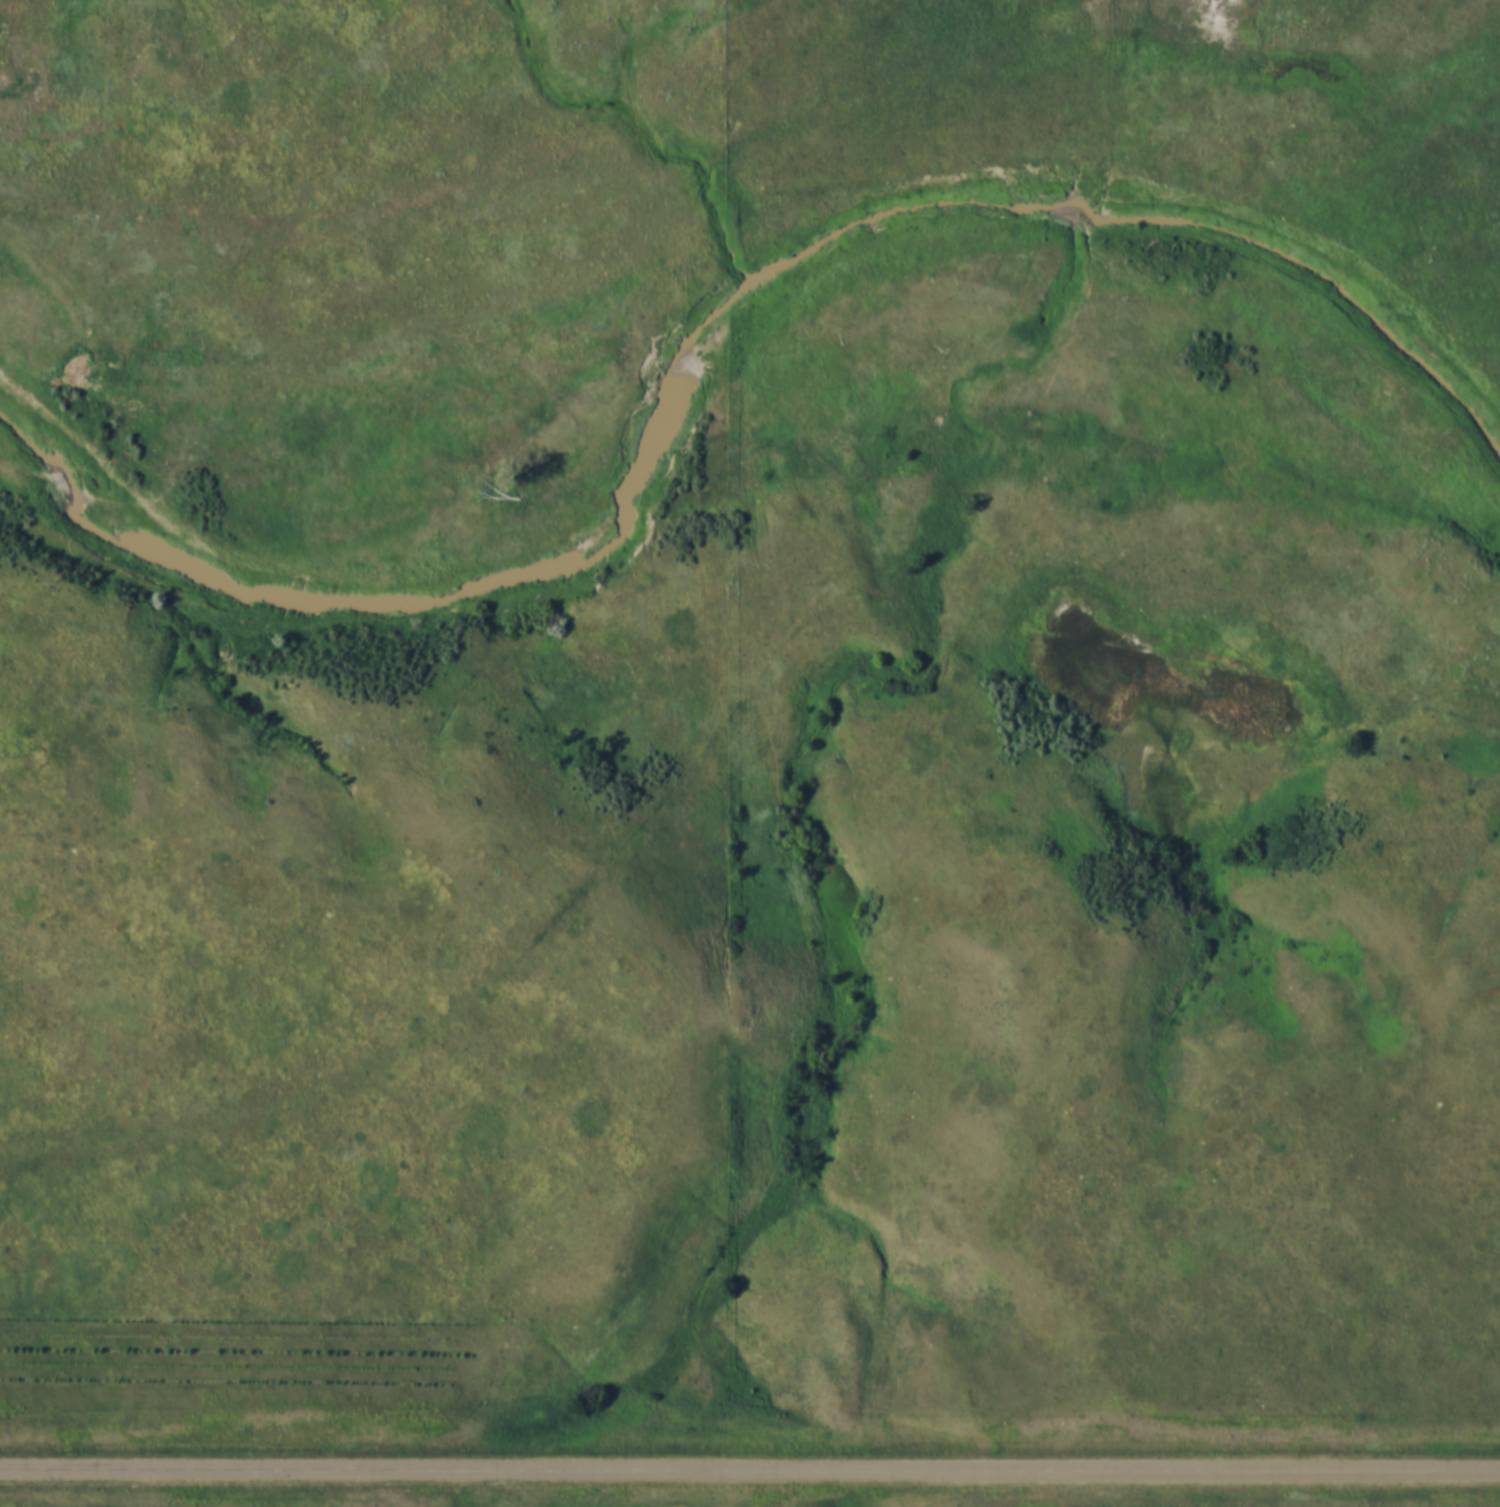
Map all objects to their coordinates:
road: (749, 1474)

